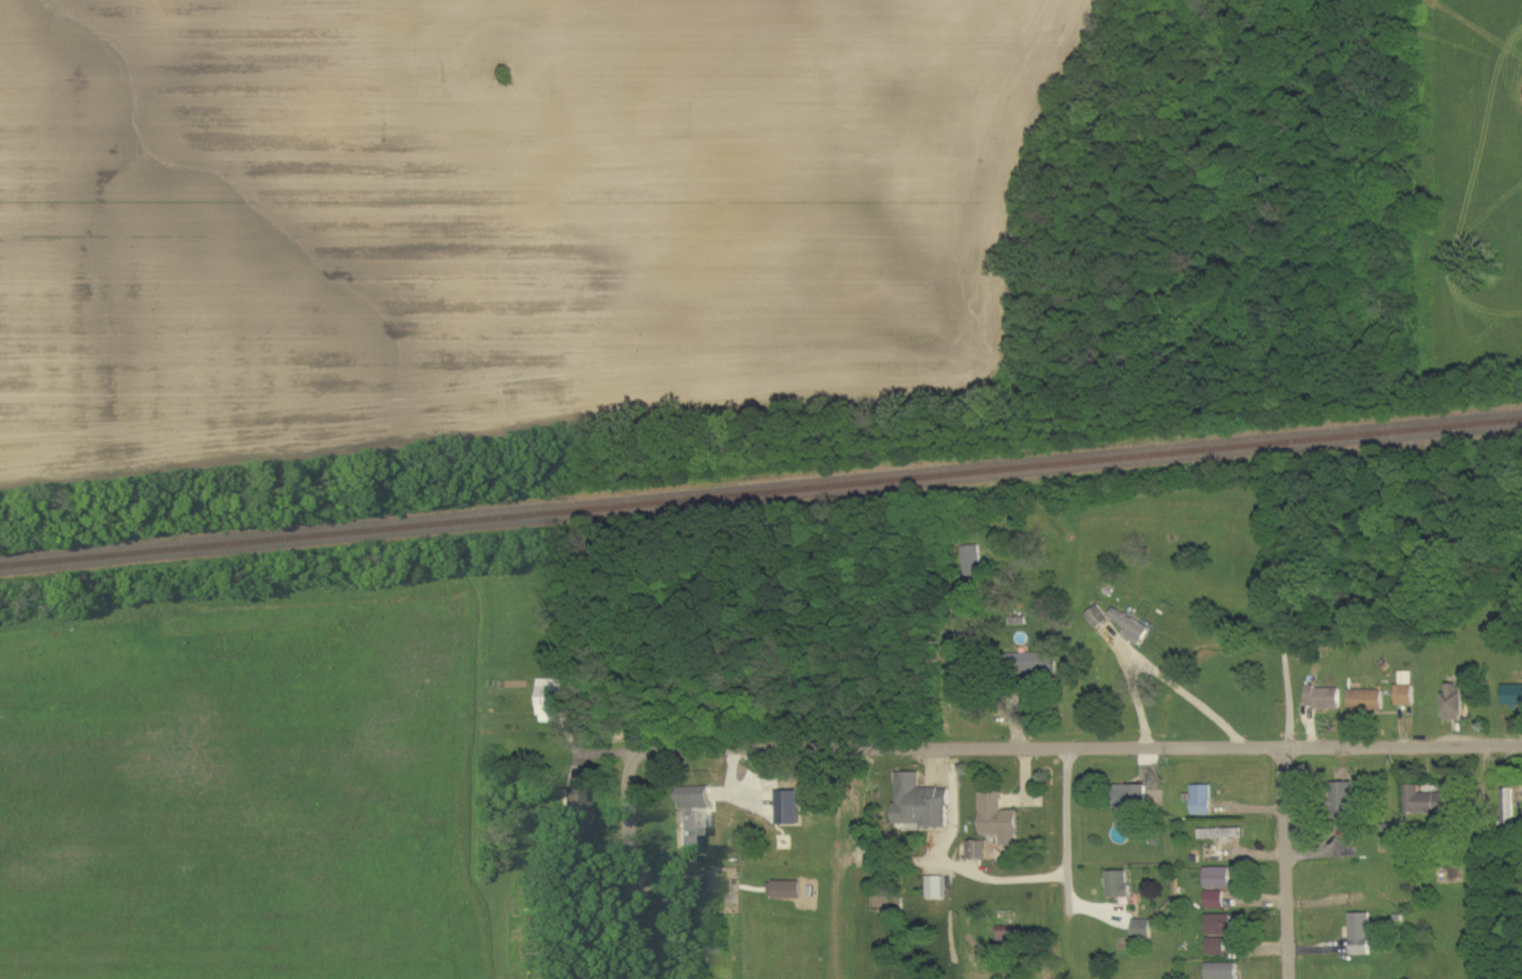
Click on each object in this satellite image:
railway: (761, 492)
building: (973, 561)
building: (1097, 618)
building: (1131, 627)
building: (1034, 664)
building: (1406, 690)
building: (1512, 696)
building: (1325, 697)
building: (549, 699)
building: (1368, 701)
building: (1454, 703)
road: (1080, 750)
building: (1203, 800)
building: (1344, 800)
building: (1427, 802)
building: (920, 804)
building: (1509, 806)
building: (1130, 807)
building: (792, 809)
building: (572, 810)
building: (691, 815)
building: (999, 820)
building: (1222, 835)
road: (1067, 838)
building: (980, 851)
road: (1287, 863)
road: (949, 865)
road: (625, 866)
building: (1220, 878)
building: (688, 882)
building: (1119, 884)
building: (936, 888)
building: (785, 891)
building: (1216, 900)
building: (695, 901)
building: (1221, 925)
building: (1143, 929)
building: (1362, 934)
building: (1007, 935)
building: (1217, 947)
building: (1223, 971)

